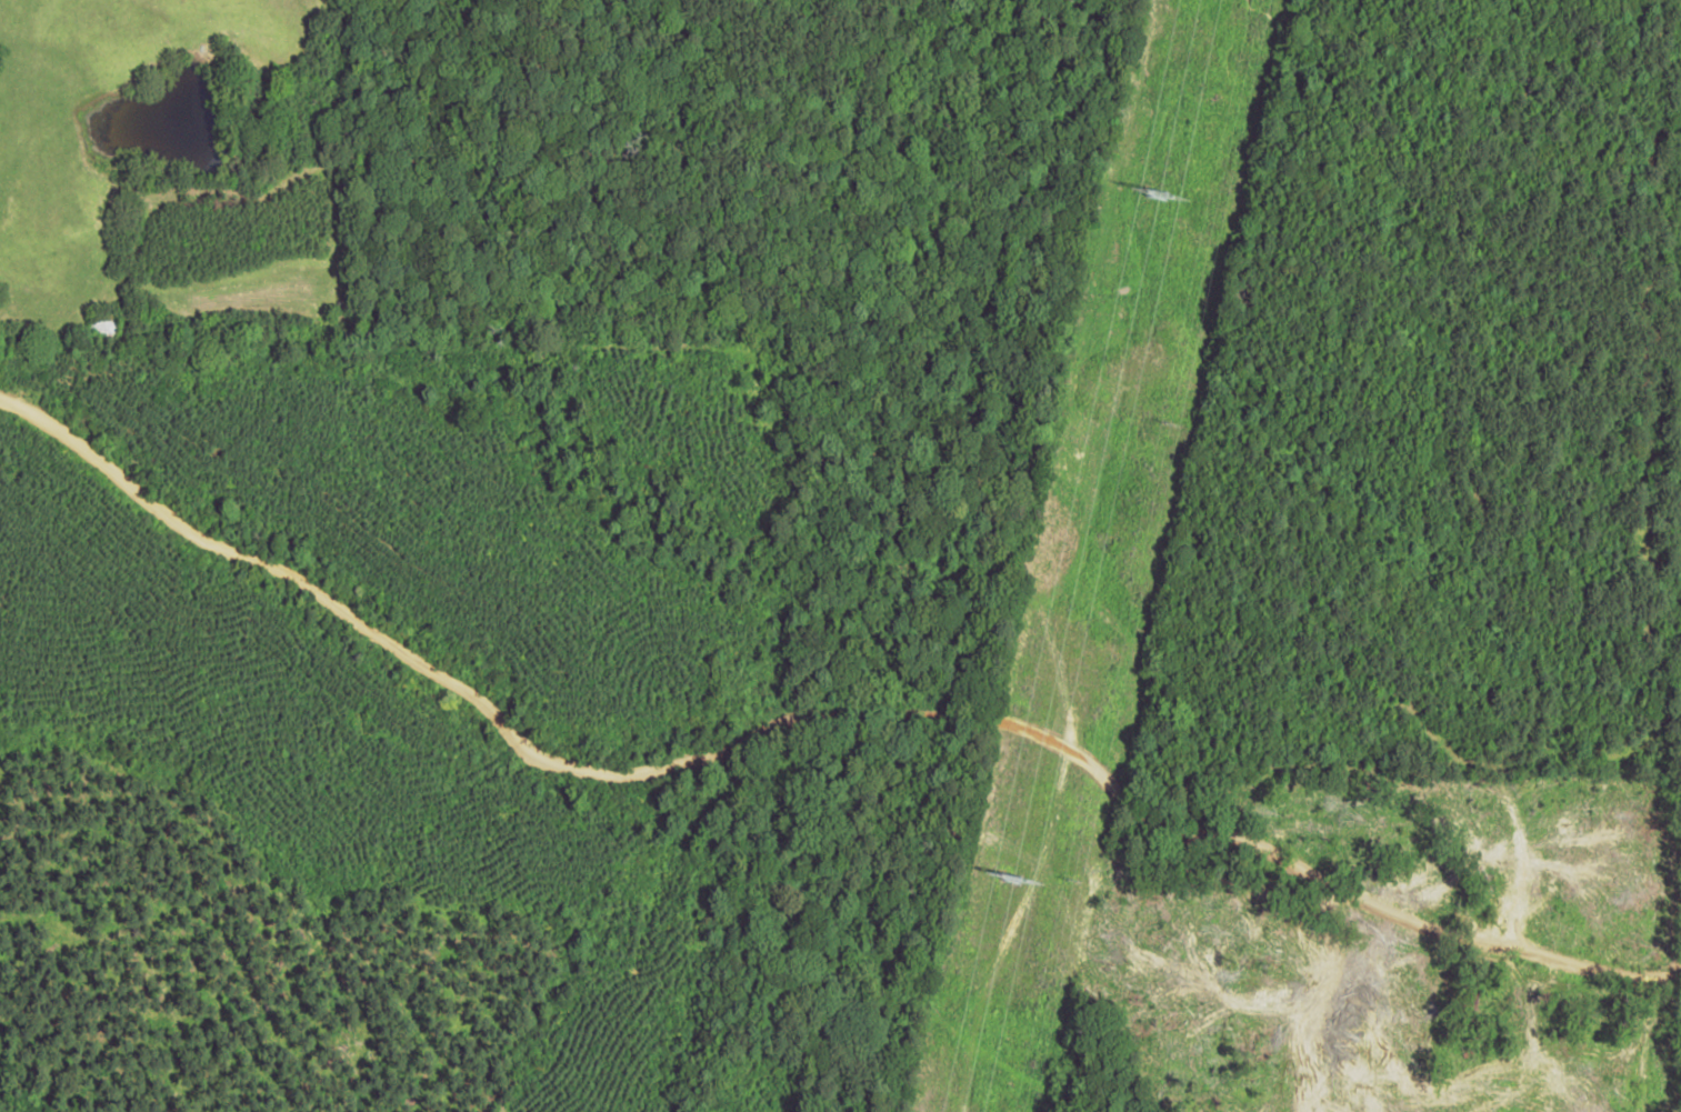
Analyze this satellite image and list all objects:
power tower: (1151, 192)
road: (809, 787)
power tower: (1003, 883)

